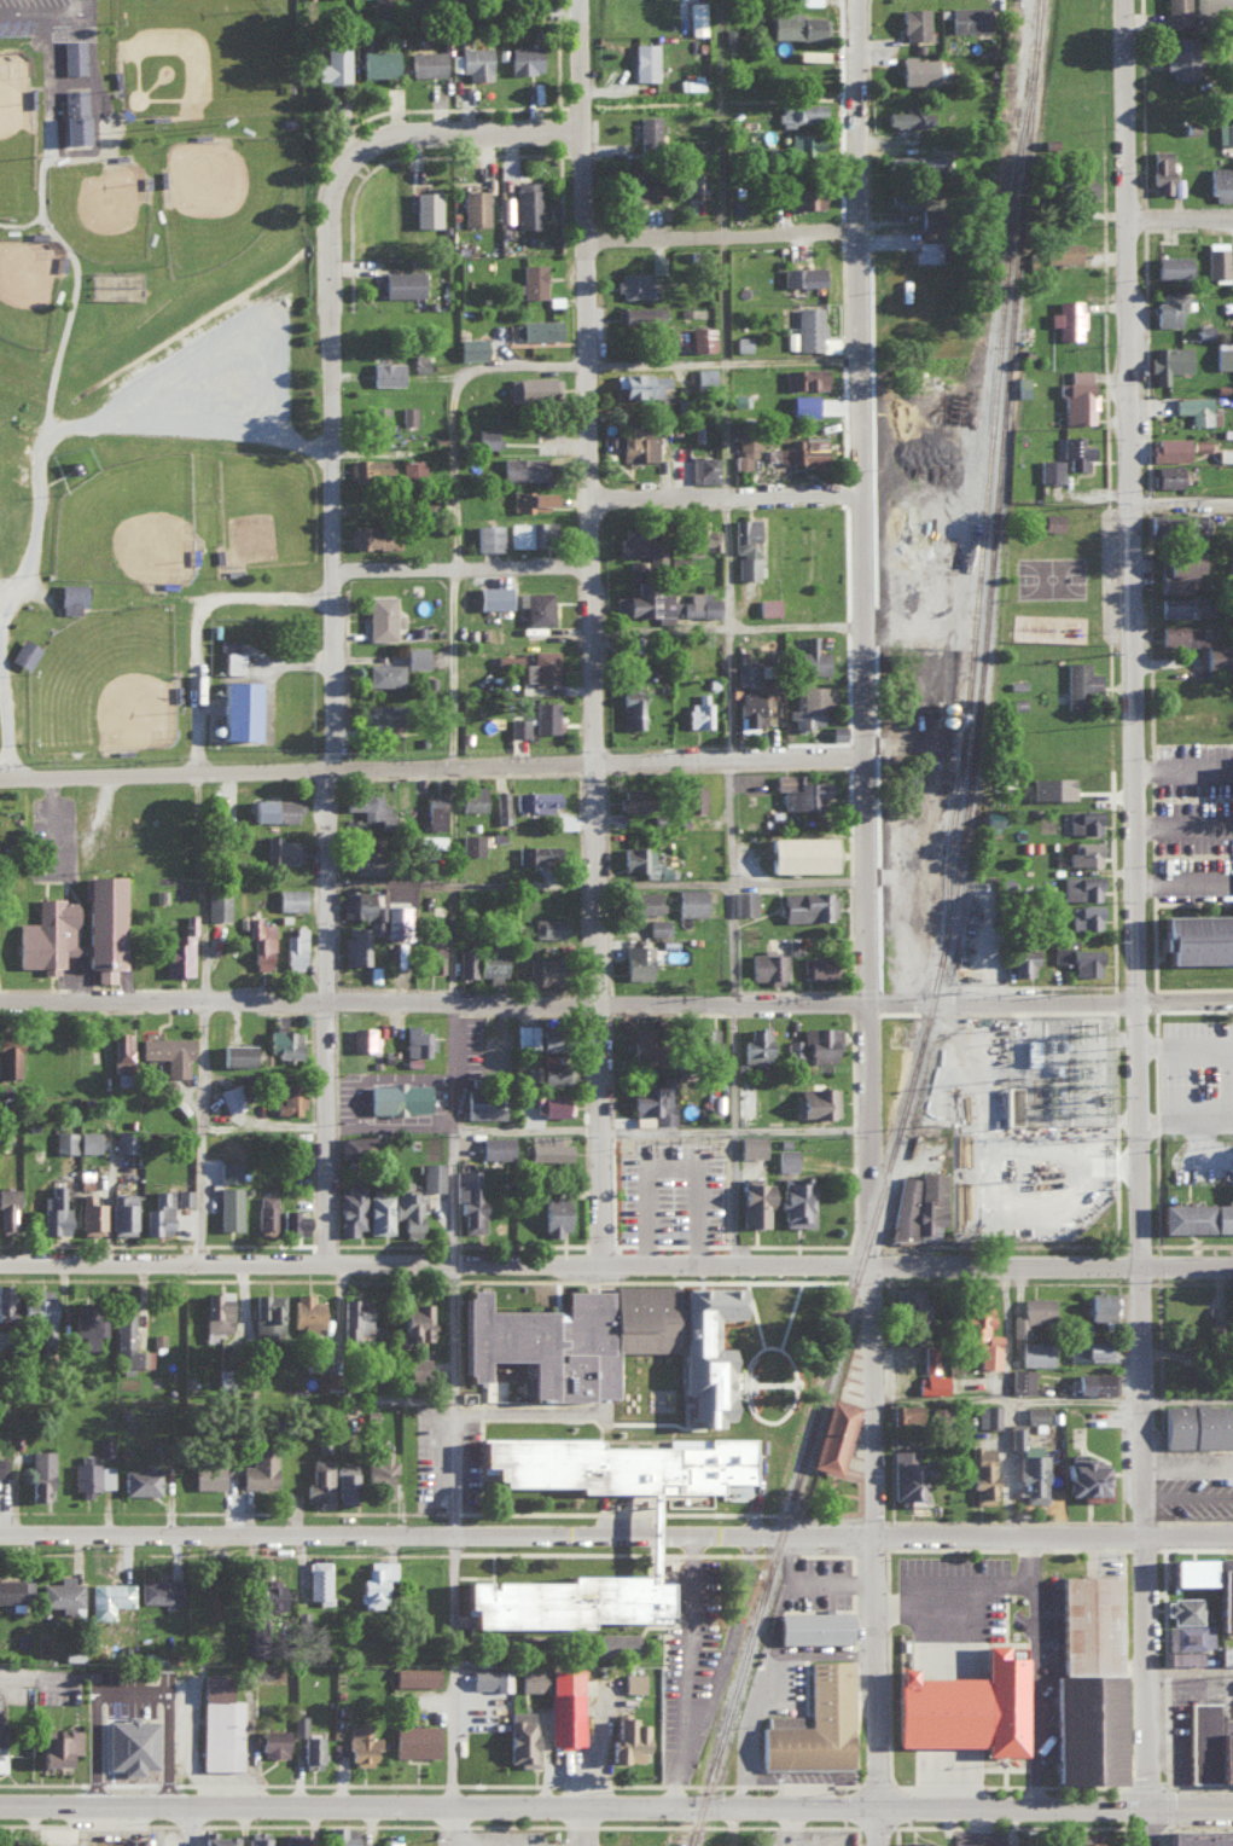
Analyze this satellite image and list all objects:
building: (809, 1)
building: (378, 8)
building: (696, 8)
building: (1176, 11)
road: (46, 13)
building: (967, 17)
building: (912, 22)
building: (797, 24)
building: (808, 53)
building: (71, 56)
park: (199, 56)
building: (1180, 57)
building: (523, 58)
building: (644, 60)
building: (377, 62)
building: (425, 62)
building: (475, 62)
building: (332, 64)
building: (917, 69)
building: (1232, 105)
building: (799, 112)
building: (71, 116)
building: (906, 116)
building: (647, 129)
building: (1225, 133)
building: (803, 143)
road: (70, 152)
building: (926, 163)
building: (1159, 170)
building: (1220, 182)
building: (1081, 185)
building: (634, 186)
park: (221, 187)
building: (804, 197)
building: (906, 198)
building: (527, 203)
park: (100, 205)
building: (473, 207)
building: (426, 208)
road: (1186, 224)
road: (735, 237)
building: (925, 250)
building: (1059, 251)
building: (657, 262)
building: (1171, 266)
building: (801, 275)
building: (531, 279)
building: (400, 283)
building: (632, 284)
park: (28, 288)
building: (1168, 307)
building: (639, 315)
building: (1066, 318)
building: (535, 329)
building: (804, 329)
building: (699, 338)
building: (741, 342)
building: (470, 347)
building: (1223, 353)
building: (1167, 361)
building: (419, 362)
road: (737, 364)
building: (385, 372)
building: (704, 376)
building: (802, 378)
building: (641, 384)
building: (533, 387)
building: (1076, 396)
building: (802, 405)
building: (1196, 408)
road: (466, 410)
building: (407, 414)
building: (373, 417)
building: (485, 436)
building: (634, 445)
building: (1167, 448)
building: (744, 451)
building: (802, 451)
building: (1075, 451)
building: (1225, 454)
building: (366, 466)
building: (411, 468)
building: (522, 468)
building: (702, 468)
road: (53, 469)
building: (1048, 469)
building: (1167, 475)
road: (739, 498)
building: (529, 500)
park: (264, 507)
road: (1186, 509)
building: (1051, 521)
park: (144, 522)
building: (1190, 523)
building: (525, 534)
building: (485, 536)
building: (699, 536)
building: (372, 538)
building: (630, 542)
building: (745, 546)
road: (741, 564)
road: (475, 569)
building: (1176, 570)
road: (344, 590)
park: (1074, 590)
building: (492, 597)
building: (70, 598)
road: (6, 599)
building: (664, 603)
building: (634, 604)
building: (699, 604)
building: (767, 605)
building: (1177, 605)
building: (535, 606)
building: (379, 616)
road: (209, 626)
road: (741, 628)
road: (607, 633)
road: (877, 634)
building: (1179, 634)
building: (23, 652)
building: (1215, 655)
building: (415, 656)
building: (808, 658)
building: (231, 661)
building: (541, 667)
building: (745, 673)
building: (384, 674)
building: (1080, 684)
park: (121, 685)
building: (809, 704)
building: (630, 706)
building: (234, 710)
building: (698, 710)
building: (749, 710)
building: (543, 715)
building: (377, 718)
park: (4, 722)
building: (517, 726)
building: (836, 731)
road: (438, 771)
road: (1183, 771)
building: (1049, 785)
building: (803, 791)
building: (471, 797)
building: (692, 797)
building: (629, 799)
building: (535, 800)
building: (365, 802)
building: (500, 803)
building: (273, 809)
building: (432, 811)
building: (991, 819)
building: (1083, 819)
road: (1185, 826)
building: (429, 840)
building: (471, 843)
building: (281, 849)
building: (1084, 851)
building: (536, 852)
building: (801, 852)
building: (357, 855)
building: (641, 860)
road: (610, 881)
building: (1080, 886)
road: (1186, 887)
building: (290, 898)
building: (690, 899)
building: (639, 900)
building: (743, 900)
building: (354, 901)
building: (216, 904)
building: (808, 904)
building: (1084, 913)
building: (389, 918)
road: (467, 918)
road: (1140, 923)
building: (549, 925)
building: (657, 925)
building: (43, 930)
building: (1194, 934)
railway: (959, 937)
building: (258, 944)
building: (354, 944)
building: (293, 947)
building: (179, 950)
building: (430, 953)
building: (1076, 954)
building: (1022, 958)
building: (635, 959)
building: (479, 960)
building: (764, 964)
building: (816, 964)
building: (540, 968)
road: (616, 1000)
building: (530, 1035)
building: (362, 1037)
building: (281, 1040)
building: (415, 1040)
building: (636, 1041)
building: (706, 1041)
building: (820, 1041)
building: (756, 1043)
building: (793, 1046)
road: (1186, 1046)
building: (121, 1049)
building: (1030, 1050)
building: (167, 1051)
building: (233, 1052)
building: (8, 1057)
building: (549, 1068)
building: (231, 1096)
building: (285, 1096)
building: (396, 1096)
building: (815, 1099)
building: (744, 1101)
building: (481, 1102)
building: (549, 1103)
building: (652, 1103)
building: (1010, 1103)
road: (1187, 1125)
road: (815, 1128)
road: (546, 1130)
road: (215, 1134)
building: (2, 1138)
building: (88, 1139)
building: (124, 1139)
building: (64, 1140)
building: (750, 1143)
building: (494, 1144)
building: (545, 1145)
road: (675, 1150)
building: (785, 1157)
building: (431, 1174)
building: (182, 1196)
building: (466, 1196)
road: (750, 1198)
building: (793, 1200)
building: (752, 1201)
building: (917, 1204)
building: (228, 1206)
building: (350, 1207)
building: (392, 1207)
building: (7, 1208)
building: (53, 1211)
building: (264, 1211)
building: (122, 1212)
building: (158, 1212)
building: (553, 1213)
building: (89, 1214)
building: (1194, 1215)
building: (291, 1220)
road: (616, 1267)
road: (1118, 1281)
building: (1100, 1305)
building: (36, 1307)
building: (911, 1307)
building: (1229, 1310)
building: (304, 1311)
building: (215, 1312)
building: (266, 1312)
building: (1030, 1312)
building: (354, 1317)
road: (1158, 1317)
building: (411, 1319)
building: (86, 1328)
building: (979, 1328)
building: (569, 1335)
road: (889, 1337)
road: (1118, 1337)
building: (128, 1341)
building: (703, 1349)
building: (1090, 1349)
building: (1035, 1352)
building: (420, 1363)
building: (501, 1368)
building: (930, 1371)
building: (1019, 1378)
building: (1093, 1381)
road: (1008, 1397)
road: (467, 1401)
road: (1004, 1403)
road: (1119, 1409)
road: (536, 1411)
building: (1035, 1412)
building: (987, 1415)
building: (1197, 1423)
building: (832, 1434)
building: (613, 1463)
building: (257, 1464)
building: (2, 1465)
building: (1028, 1465)
building: (981, 1471)
building: (39, 1473)
road: (1161, 1473)
building: (92, 1474)
building: (207, 1474)
building: (906, 1474)
building: (1082, 1474)
building: (139, 1480)
building: (318, 1481)
building: (344, 1484)
road: (1197, 1519)
road: (1008, 1520)
road: (1117, 1520)
road: (616, 1537)
road: (853, 1545)
road: (931, 1546)
road: (1083, 1546)
road: (1162, 1546)
road: (1028, 1548)
building: (644, 1554)
road: (874, 1556)
road: (1022, 1560)
road: (1035, 1560)
road: (1162, 1569)
building: (1186, 1569)
building: (316, 1579)
building: (376, 1581)
building: (14, 1589)
building: (158, 1589)
building: (1222, 1590)
building: (59, 1591)
building: (268, 1595)
building: (107, 1597)
building: (563, 1600)
road: (1123, 1601)
road: (886, 1606)
building: (69, 1608)
building: (1183, 1608)
road: (1034, 1613)
building: (301, 1619)
building: (813, 1625)
building: (254, 1635)
building: (1185, 1641)
building: (613, 1642)
road: (729, 1644)
road: (1124, 1666)
road: (458, 1670)
road: (1164, 1670)
road: (684, 1671)
road: (23, 1672)
building: (413, 1674)
building: (481, 1676)
building: (531, 1678)
building: (630, 1680)
building: (1084, 1680)
building: (960, 1703)
building: (563, 1705)
road: (1127, 1712)
road: (888, 1714)
building: (812, 1722)
building: (219, 1724)
road: (1165, 1730)
building: (520, 1736)
building: (413, 1738)
building: (623, 1740)
building: (272, 1741)
building: (306, 1742)
building: (1208, 1742)
building: (359, 1743)
building: (54, 1745)
building: (0, 1760)
road: (1123, 1767)
road: (874, 1783)
road: (1200, 1783)
road: (947, 1784)
road: (1004, 1784)
road: (1031, 1784)
road: (1123, 1784)
road: (1078, 1786)
road: (575, 1803)
road: (855, 1804)
road: (895, 1804)
road: (1192, 1805)
road: (202, 1824)
road: (448, 1824)
road: (598, 1824)
road: (958, 1824)
road: (876, 1825)
road: (908, 1825)
road: (946, 1825)
road: (1011, 1825)
road: (1202, 1827)
building: (339, 1835)
road: (1169, 1836)
building: (1198, 1836)
building: (256, 1838)
building: (289, 1838)
building: (213, 1839)
building: (1082, 1839)
building: (2, 1841)
building: (913, 1842)
building: (975, 1844)
building: (42, 1845)

